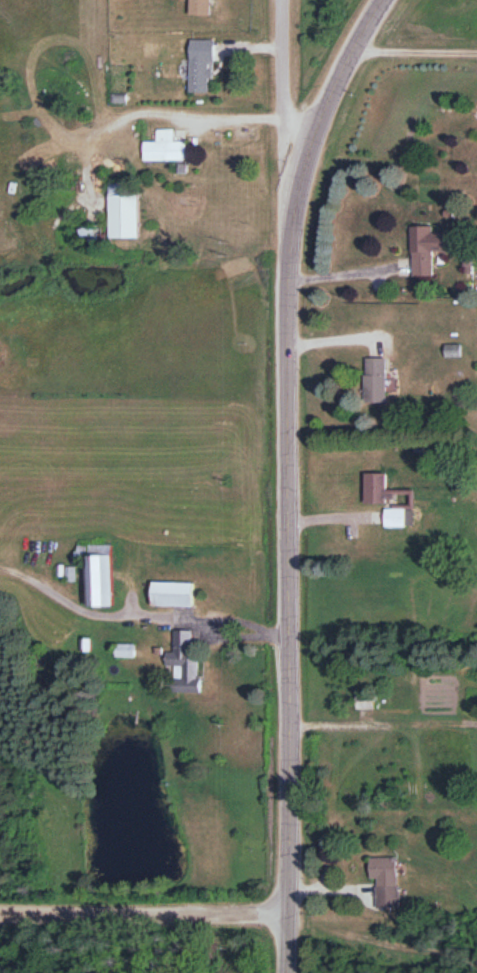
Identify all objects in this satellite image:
building: (201, 6)
road: (417, 45)
building: (201, 74)
road: (285, 92)
parking lot: (217, 132)
building: (166, 145)
building: (124, 208)
park: (126, 222)
building: (90, 232)
building: (428, 246)
building: (377, 377)
road: (290, 476)
building: (390, 497)
building: (99, 571)
building: (173, 592)
road: (163, 614)
road: (237, 634)
building: (127, 648)
building: (186, 661)
building: (367, 699)
building: (387, 879)
road: (145, 911)

